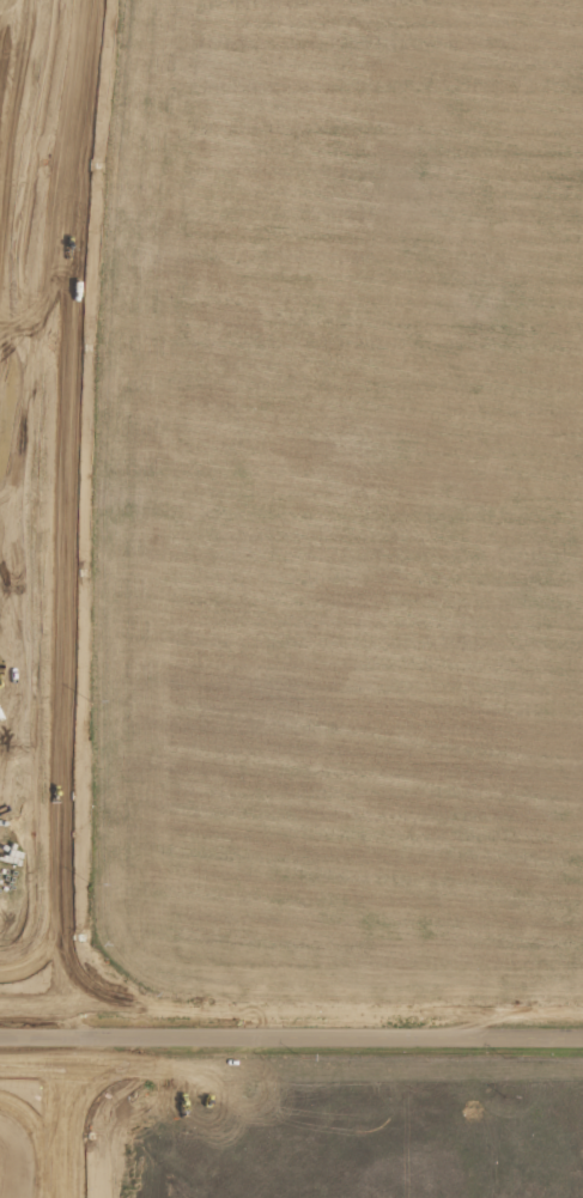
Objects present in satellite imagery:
road: (326, 1033)
road: (35, 1034)
road: (69, 1115)

